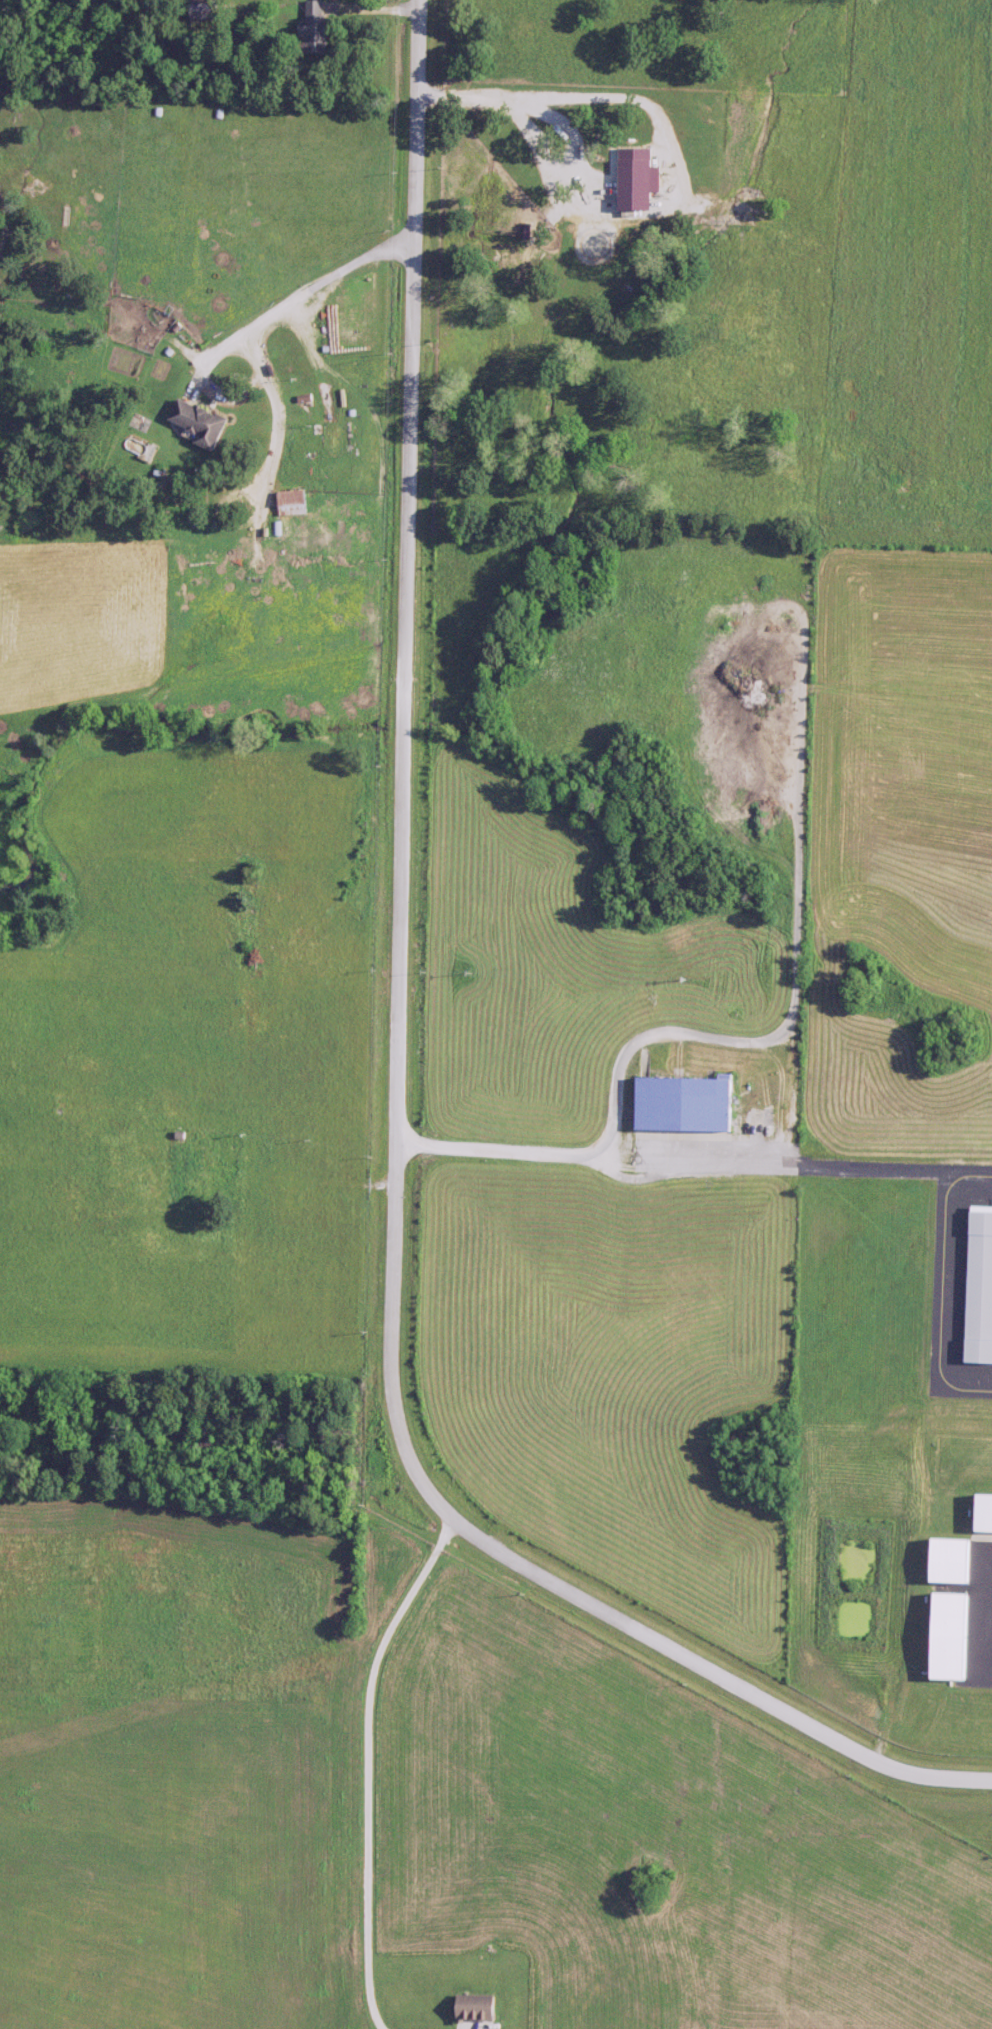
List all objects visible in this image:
building: (317, 25)
road: (253, 339)
road: (413, 339)
building: (205, 422)
building: (295, 501)
building: (687, 1103)
road: (607, 1154)
airport taxiway: (904, 1166)
road: (315, 1182)
building: (980, 1288)
road: (396, 1410)
building: (985, 1513)
building: (957, 1561)
airport apron: (979, 1615)
building: (954, 1637)
building: (479, 2008)

